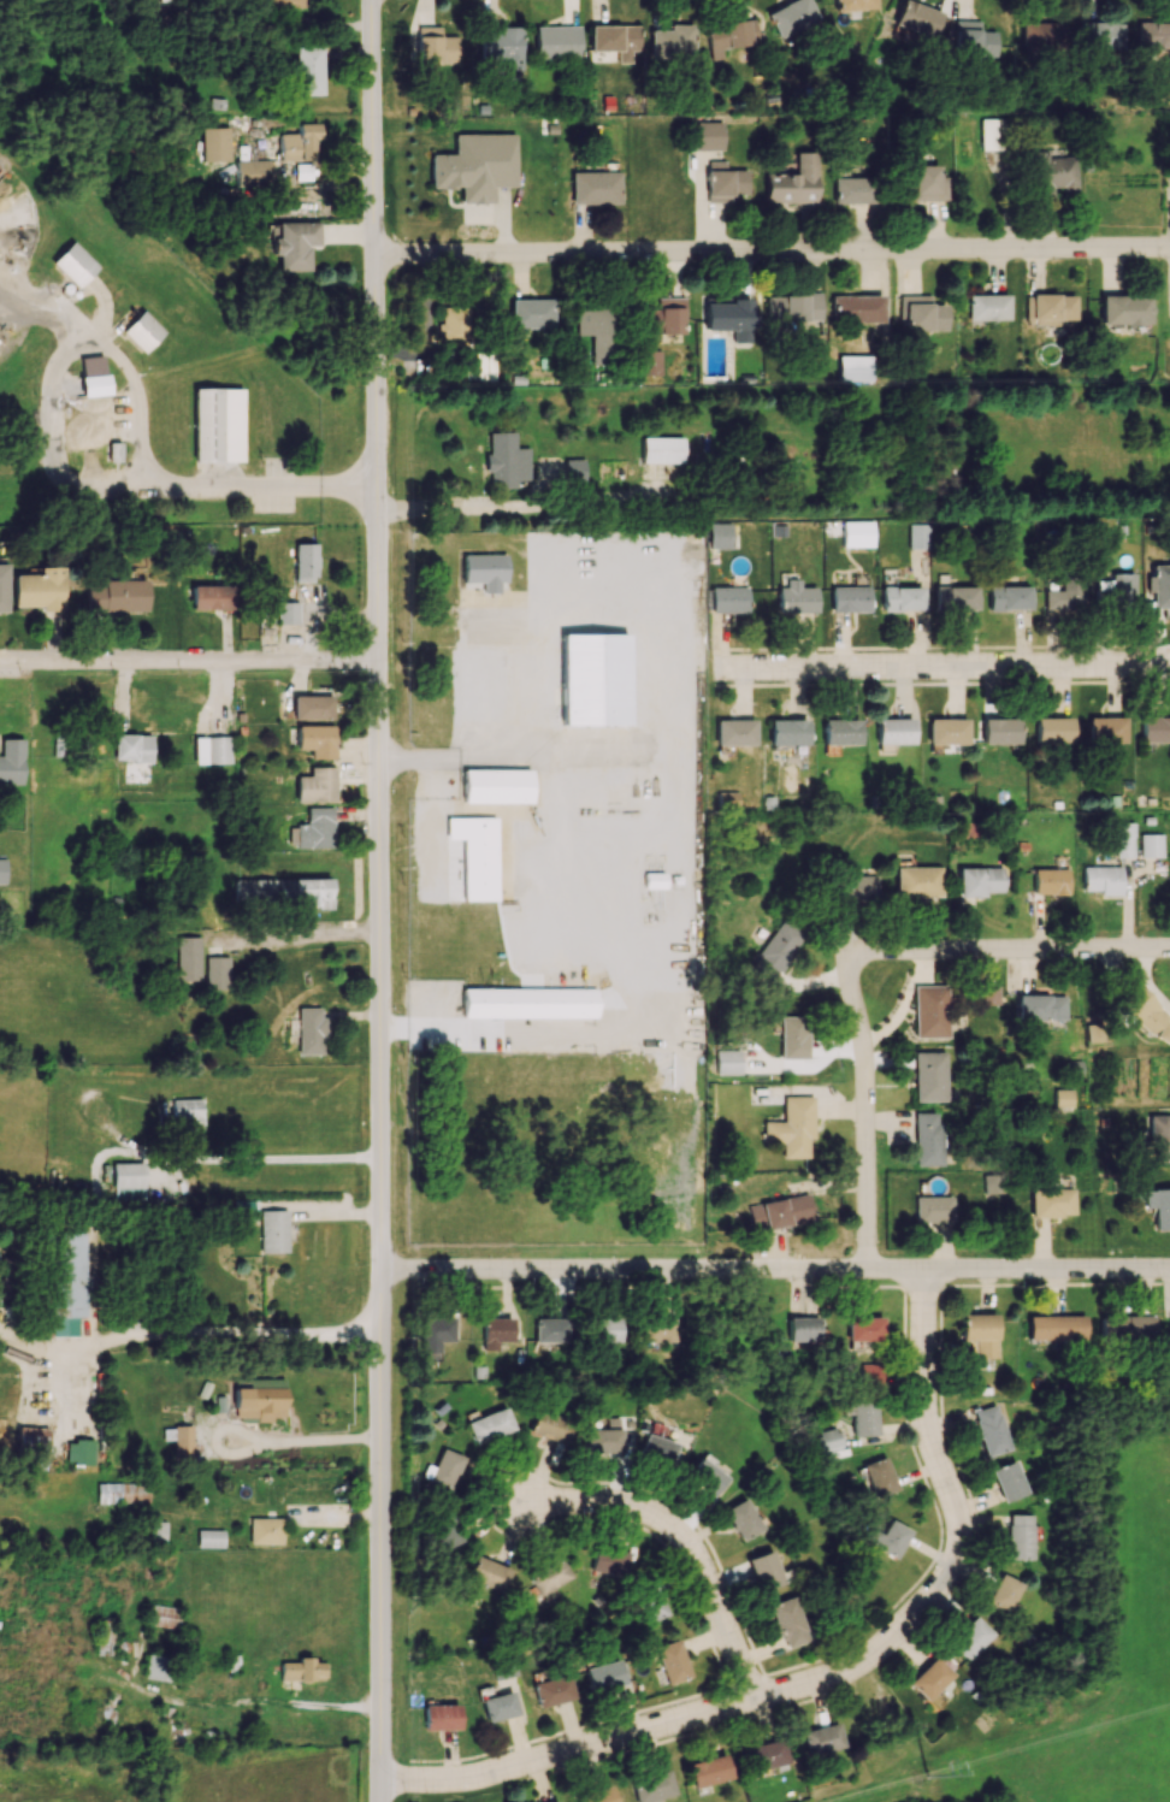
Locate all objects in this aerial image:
building: (283, 2)
building: (853, 5)
building: (790, 16)
building: (917, 18)
building: (1098, 35)
building: (1153, 35)
building: (729, 36)
building: (1041, 36)
building: (614, 40)
building: (971, 40)
building: (670, 41)
building: (556, 42)
building: (435, 45)
building: (502, 51)
building: (307, 71)
building: (994, 134)
building: (708, 135)
building: (297, 142)
building: (214, 143)
building: (475, 166)
building: (252, 172)
building: (1053, 175)
building: (723, 182)
building: (926, 182)
building: (595, 187)
building: (855, 190)
building: (295, 244)
road: (773, 250)
building: (73, 264)
building: (987, 307)
building: (792, 308)
building: (856, 308)
building: (1050, 308)
building: (1124, 309)
building: (531, 313)
building: (921, 313)
building: (663, 317)
building: (728, 318)
building: (454, 325)
building: (142, 331)
building: (598, 333)
building: (649, 362)
building: (853, 367)
building: (93, 376)
road: (54, 406)
building: (217, 425)
building: (661, 449)
building: (506, 460)
building: (573, 468)
road: (260, 491)
road: (524, 508)
building: (833, 527)
building: (857, 533)
building: (719, 536)
building: (917, 536)
building: (305, 562)
building: (485, 571)
building: (4, 587)
building: (40, 589)
building: (1116, 589)
building: (1160, 589)
building: (1065, 595)
building: (117, 596)
building: (212, 597)
building: (796, 597)
building: (955, 597)
building: (1007, 597)
building: (849, 598)
building: (900, 598)
building: (727, 599)
building: (286, 613)
road: (189, 662)
road: (944, 667)
building: (312, 707)
building: (591, 713)
building: (1105, 729)
building: (1154, 729)
building: (893, 731)
building: (946, 731)
building: (999, 731)
building: (1052, 731)
building: (734, 732)
building: (790, 732)
building: (840, 732)
building: (317, 740)
building: (132, 748)
building: (212, 750)
road: (457, 755)
road: (605, 755)
building: (11, 761)
building: (317, 785)
building: (496, 786)
building: (727, 800)
road: (674, 808)
building: (315, 828)
building: (1123, 839)
building: (1151, 845)
building: (475, 855)
building: (2, 870)
building: (1103, 880)
building: (917, 881)
building: (979, 881)
building: (1050, 881)
building: (858, 888)
building: (254, 891)
building: (303, 893)
road: (379, 900)
road: (309, 930)
building: (776, 949)
road: (1007, 949)
building: (189, 957)
building: (217, 973)
building: (987, 994)
building: (527, 1003)
building: (1041, 1009)
building: (930, 1011)
building: (1147, 1015)
building: (311, 1030)
building: (792, 1036)
building: (727, 1062)
building: (929, 1076)
building: (1063, 1098)
road: (864, 1111)
building: (187, 1115)
building: (792, 1127)
building: (1158, 1138)
building: (927, 1139)
road: (279, 1163)
building: (128, 1181)
building: (993, 1184)
building: (1052, 1201)
building: (1156, 1206)
building: (933, 1209)
building: (243, 1211)
building: (779, 1212)
building: (272, 1230)
road: (774, 1268)
building: (67, 1282)
building: (1169, 1325)
building: (1056, 1327)
building: (863, 1328)
building: (1127, 1328)
building: (551, 1329)
building: (657, 1329)
building: (802, 1329)
building: (605, 1330)
road: (225, 1331)
building: (496, 1331)
building: (437, 1334)
building: (979, 1335)
building: (258, 1398)
building: (864, 1419)
building: (489, 1425)
building: (549, 1425)
building: (32, 1426)
building: (991, 1430)
building: (827, 1440)
building: (182, 1441)
road: (294, 1447)
building: (655, 1449)
building: (447, 1469)
building: (705, 1475)
building: (879, 1477)
building: (1009, 1481)
building: (122, 1493)
building: (741, 1519)
building: (265, 1530)
building: (159, 1531)
building: (1020, 1536)
building: (209, 1538)
building: (888, 1538)
road: (684, 1541)
building: (608, 1561)
building: (764, 1570)
building: (489, 1573)
building: (548, 1576)
building: (1003, 1593)
building: (651, 1607)
building: (162, 1617)
building: (787, 1621)
building: (105, 1636)
building: (970, 1637)
building: (672, 1661)
building: (158, 1667)
building: (502, 1668)
building: (301, 1670)
road: (833, 1674)
building: (603, 1676)
building: (930, 1678)
building: (552, 1690)
road: (253, 1698)
building: (498, 1706)
building: (441, 1717)
building: (822, 1739)
building: (764, 1755)
building: (708, 1771)
power tower: (929, 1776)
landfill: (79, 1785)
building: (652, 1786)
building: (596, 1795)
building: (556, 1801)

